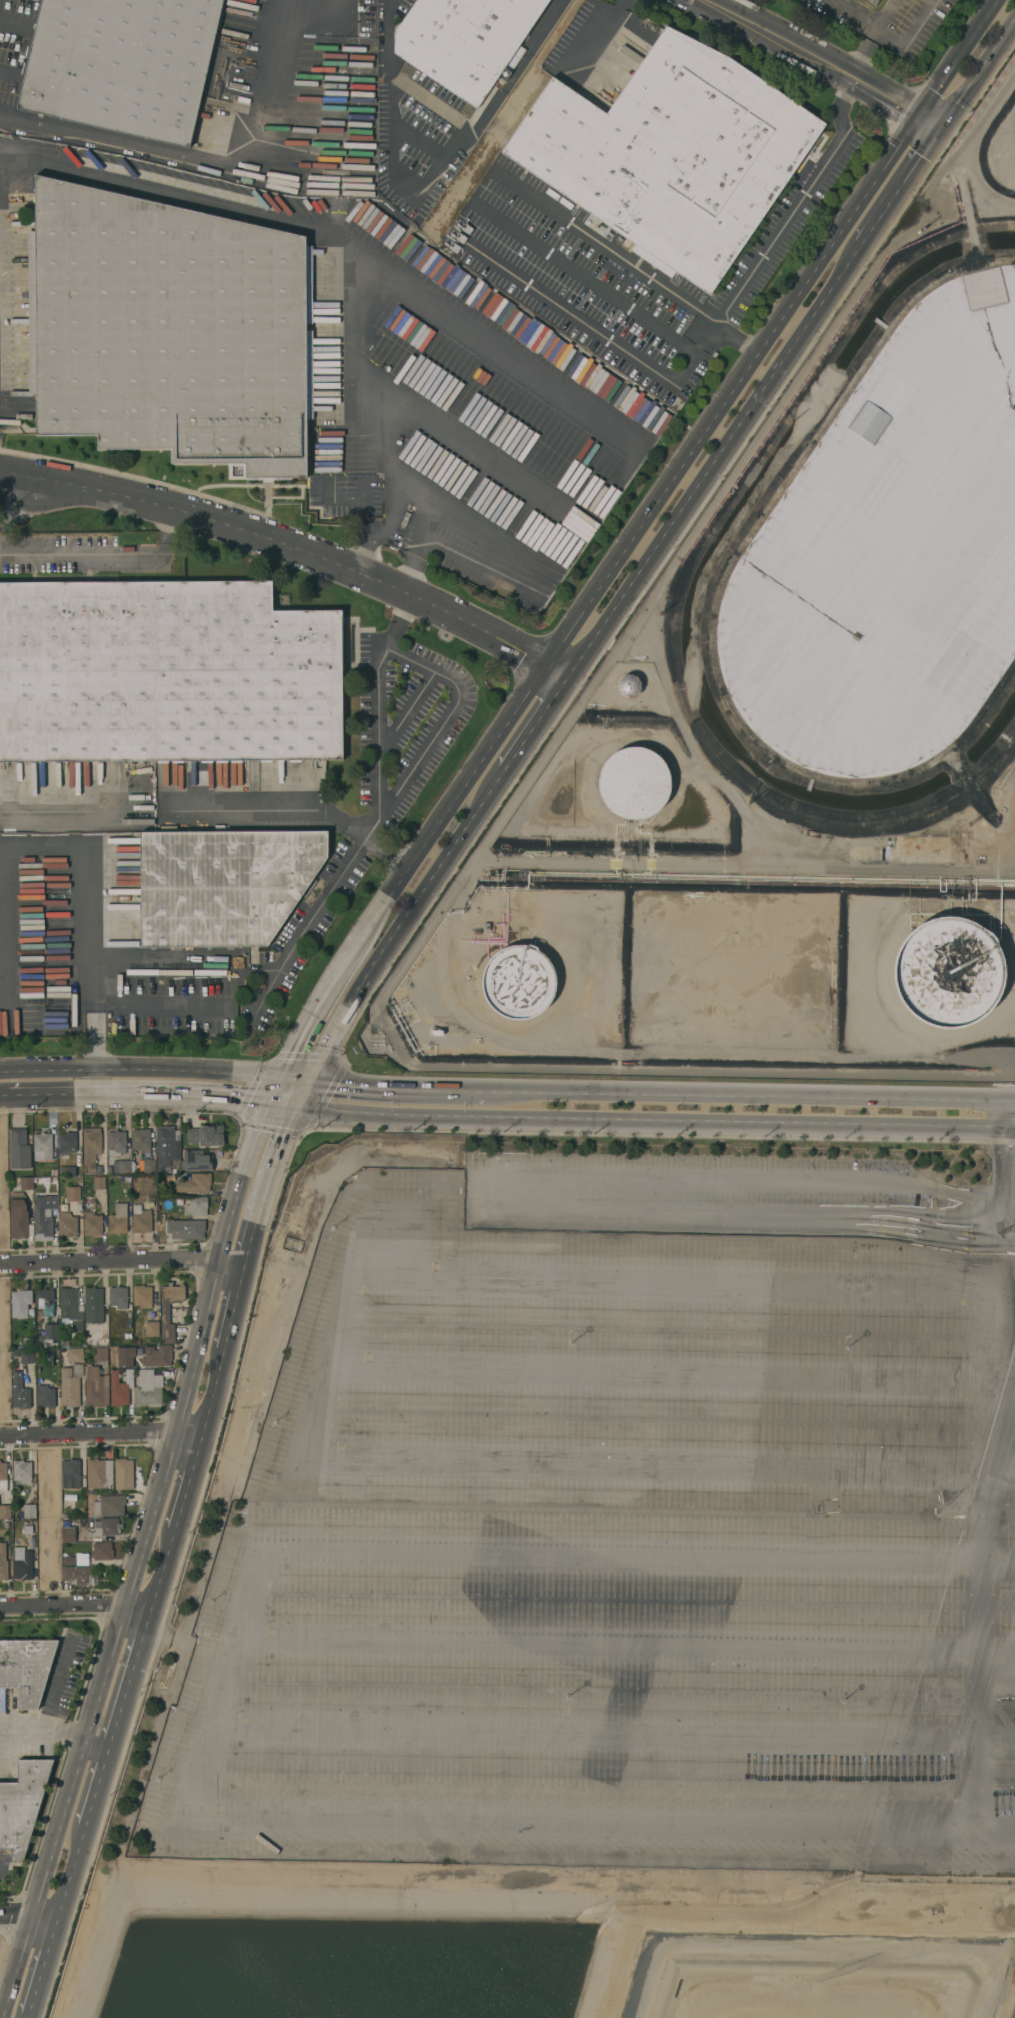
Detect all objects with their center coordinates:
building: (872, 2)
road: (324, 4)
road: (347, 4)
road: (855, 15)
road: (588, 26)
road: (890, 36)
building: (468, 41)
road: (534, 41)
road: (817, 55)
road: (959, 57)
building: (126, 66)
road: (979, 78)
road: (932, 122)
road: (392, 145)
road: (976, 149)
building: (674, 157)
road: (203, 165)
road: (175, 192)
road: (896, 198)
road: (788, 214)
road: (605, 246)
road: (584, 278)
building: (170, 327)
road: (589, 327)
road: (734, 339)
road: (714, 474)
road: (23, 498)
road: (366, 499)
road: (651, 510)
road: (391, 513)
road: (417, 545)
road: (295, 551)
road: (571, 552)
road: (100, 553)
road: (362, 553)
building: (889, 560)
road: (396, 618)
road: (413, 658)
building: (168, 674)
building: (629, 685)
road: (533, 733)
building: (62, 773)
building: (73, 775)
building: (84, 775)
building: (94, 775)
building: (36, 777)
building: (634, 782)
building: (62, 785)
building: (77, 789)
building: (92, 789)
building: (62, 796)
building: (42, 799)
road: (200, 807)
building: (225, 888)
road: (96, 921)
building: (984, 922)
road: (398, 932)
road: (282, 966)
building: (948, 971)
building: (519, 981)
road: (330, 990)
road: (143, 1071)
traffic signals: (287, 1080)
road: (300, 1081)
traffic signals: (315, 1082)
road: (419, 1089)
road: (280, 1092)
road: (151, 1094)
road: (51, 1095)
road: (765, 1096)
road: (237, 1098)
road: (1010, 1102)
traffic signals: (273, 1105)
traffic signals: (301, 1106)
road: (268, 1111)
road: (345, 1113)
road: (1004, 1115)
road: (711, 1122)
road: (1009, 1128)
building: (206, 1135)
building: (141, 1139)
building: (66, 1142)
building: (116, 1142)
building: (42, 1146)
building: (90, 1148)
building: (164, 1148)
building: (19, 1149)
building: (197, 1160)
building: (121, 1166)
building: (149, 1166)
building: (67, 1170)
road: (272, 1171)
road: (544, 1172)
building: (99, 1182)
building: (26, 1183)
building: (194, 1183)
road: (1002, 1192)
building: (73, 1193)
road: (1008, 1205)
building: (196, 1206)
road: (904, 1211)
building: (19, 1215)
building: (44, 1216)
road: (974, 1217)
building: (118, 1219)
building: (142, 1220)
road: (897, 1220)
building: (67, 1224)
building: (92, 1224)
building: (185, 1228)
road: (901, 1234)
road: (122, 1261)
building: (142, 1295)
building: (118, 1297)
building: (44, 1300)
building: (20, 1302)
building: (93, 1305)
building: (71, 1309)
building: (165, 1312)
road: (233, 1313)
building: (152, 1328)
building: (51, 1331)
building: (93, 1337)
building: (100, 1353)
building: (74, 1354)
building: (156, 1354)
building: (23, 1355)
building: (77, 1369)
road: (323, 1373)
building: (95, 1386)
building: (120, 1387)
building: (69, 1388)
building: (148, 1388)
building: (19, 1391)
building: (45, 1396)
road: (212, 1399)
road: (101, 1435)
building: (22, 1471)
building: (70, 1473)
building: (99, 1473)
building: (123, 1473)
building: (3, 1478)
road: (186, 1488)
building: (109, 1505)
building: (5, 1511)
building: (29, 1511)
building: (107, 1526)
building: (68, 1534)
road: (390, 1549)
building: (102, 1551)
road: (828, 1555)
building: (68, 1561)
building: (3, 1562)
building: (22, 1563)
road: (136, 1568)
building: (77, 1575)
road: (161, 1577)
road: (76, 1608)
road: (994, 1632)
building: (26, 1668)
road: (973, 1670)
road: (128, 1686)
road: (55, 1732)
road: (593, 1738)
road: (95, 1794)
building: (21, 1805)
road: (481, 1818)
road: (69, 1878)
road: (27, 1917)
road: (41, 1971)

